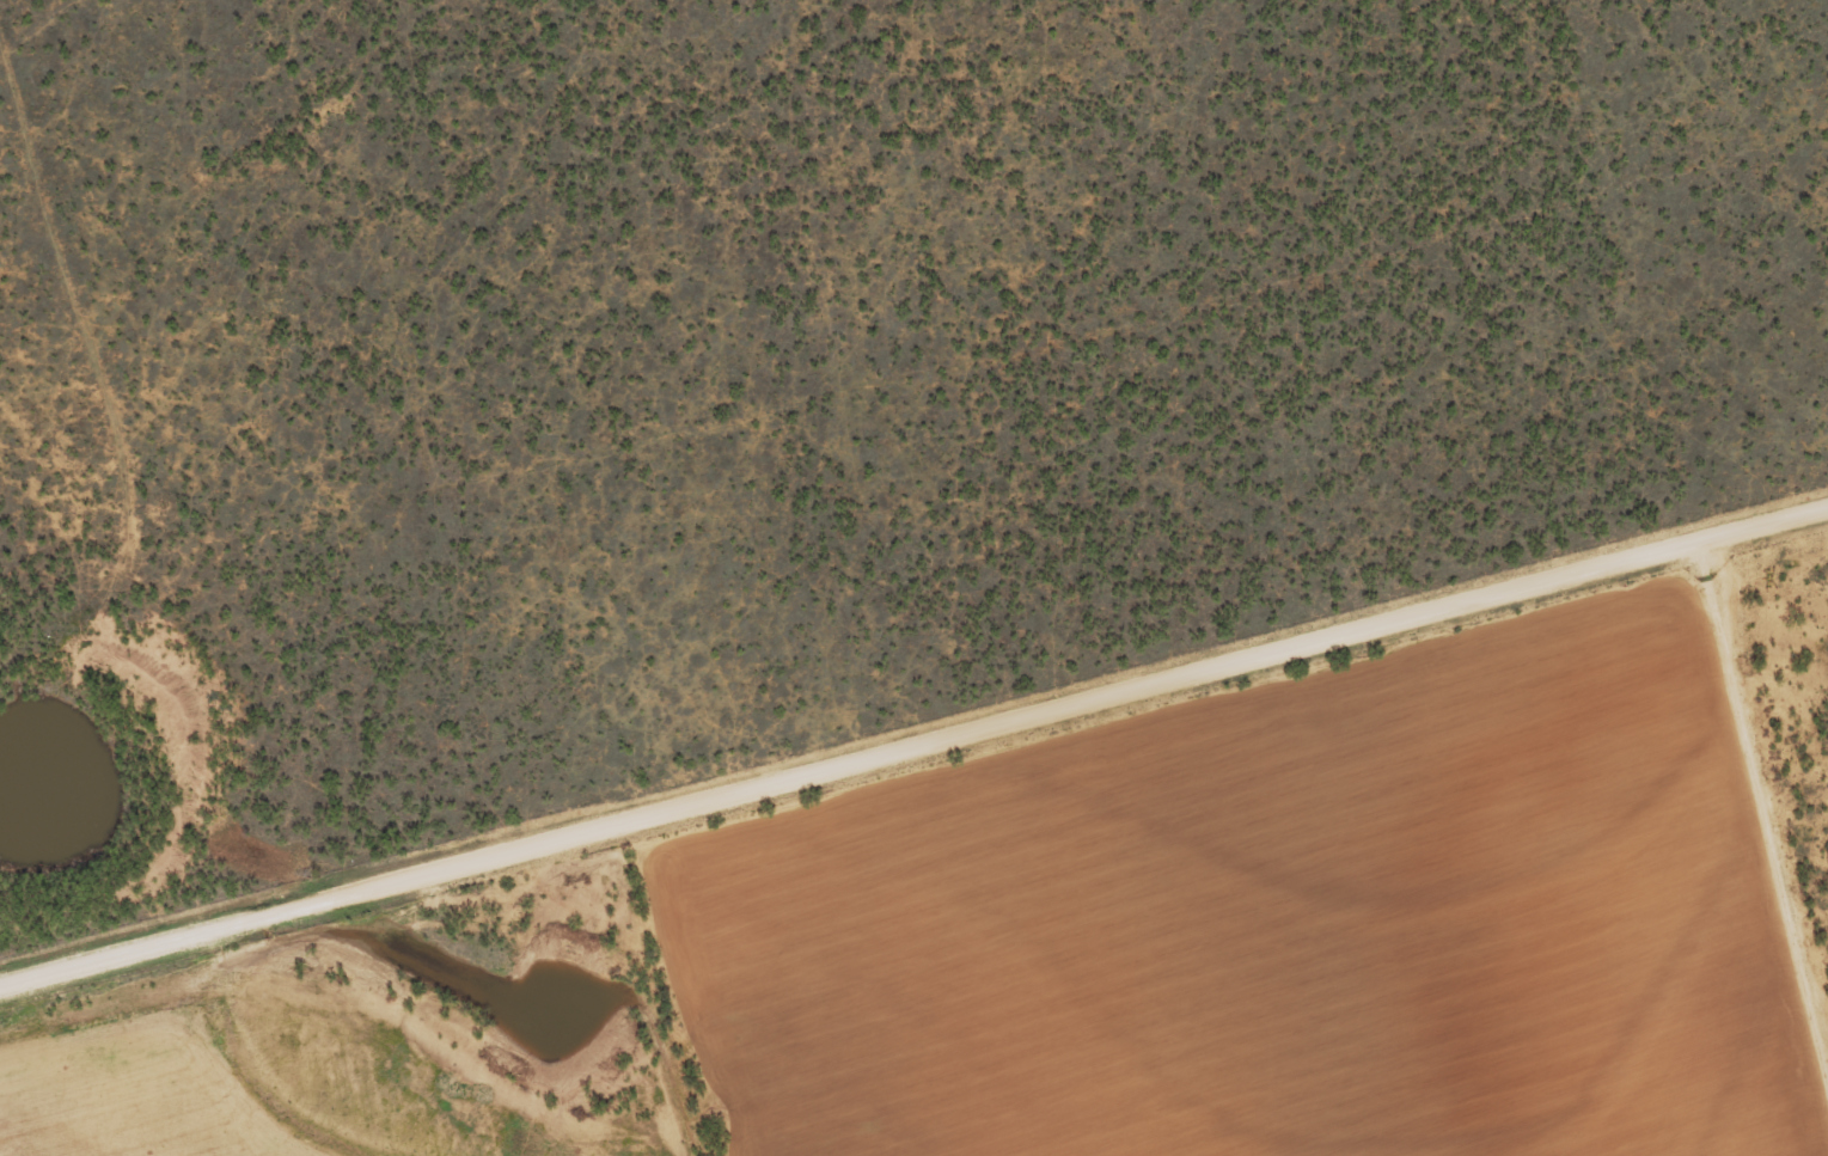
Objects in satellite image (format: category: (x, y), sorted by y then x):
road: (1026, 410)
road: (1763, 567)
road: (849, 807)
road: (1763, 869)

